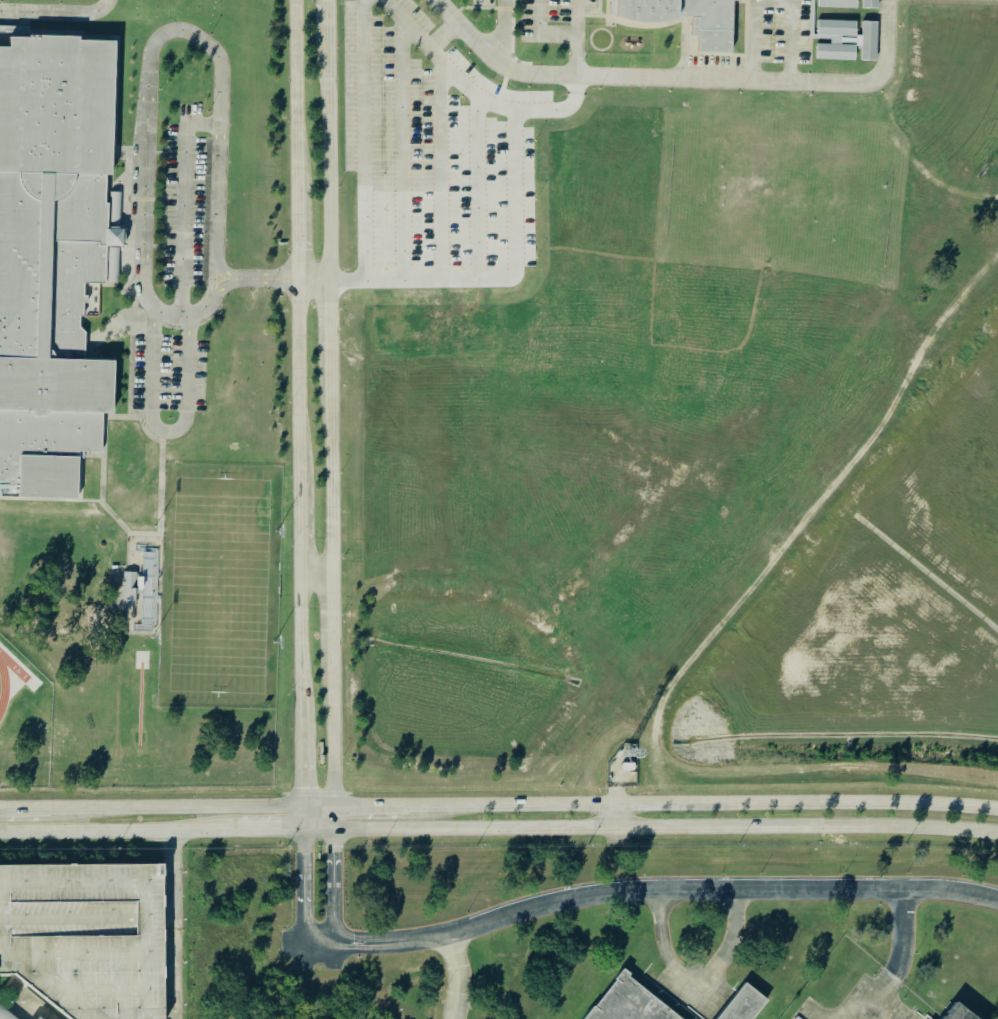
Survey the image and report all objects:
road: (774, 2)
building: (850, 4)
road: (57, 11)
road: (408, 24)
road: (503, 29)
building: (710, 29)
parking lot: (782, 31)
road: (542, 33)
road: (577, 37)
building: (848, 41)
parking lot: (719, 67)
road: (150, 69)
road: (684, 77)
road: (364, 95)
road: (478, 97)
road: (441, 186)
road: (520, 188)
building: (49, 253)
road: (332, 280)
road: (188, 330)
road: (332, 403)
road: (299, 414)
road: (317, 572)
park: (218, 581)
building: (131, 587)
road: (703, 806)
road: (190, 807)
road: (370, 807)
road: (25, 809)
road: (617, 817)
road: (331, 818)
road: (499, 828)
road: (331, 887)
road: (661, 889)
road: (301, 901)
road: (174, 925)
parking lot: (85, 938)
road: (892, 966)
road: (462, 977)
road: (694, 997)
building: (627, 1003)
building: (742, 1005)
road: (29, 1007)
building: (928, 1010)
building: (5, 1014)
building: (953, 1014)
building: (38, 1018)
building: (73, 1018)

